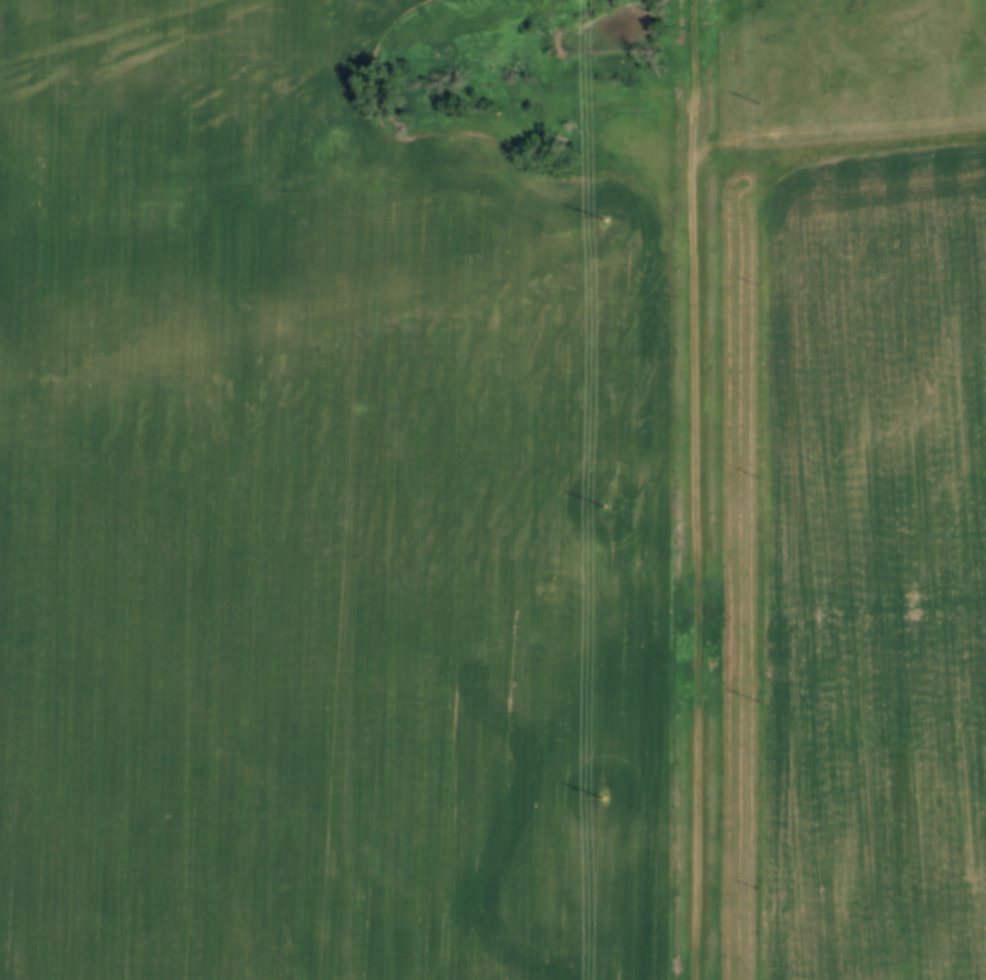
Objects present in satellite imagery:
road: (696, 490)

